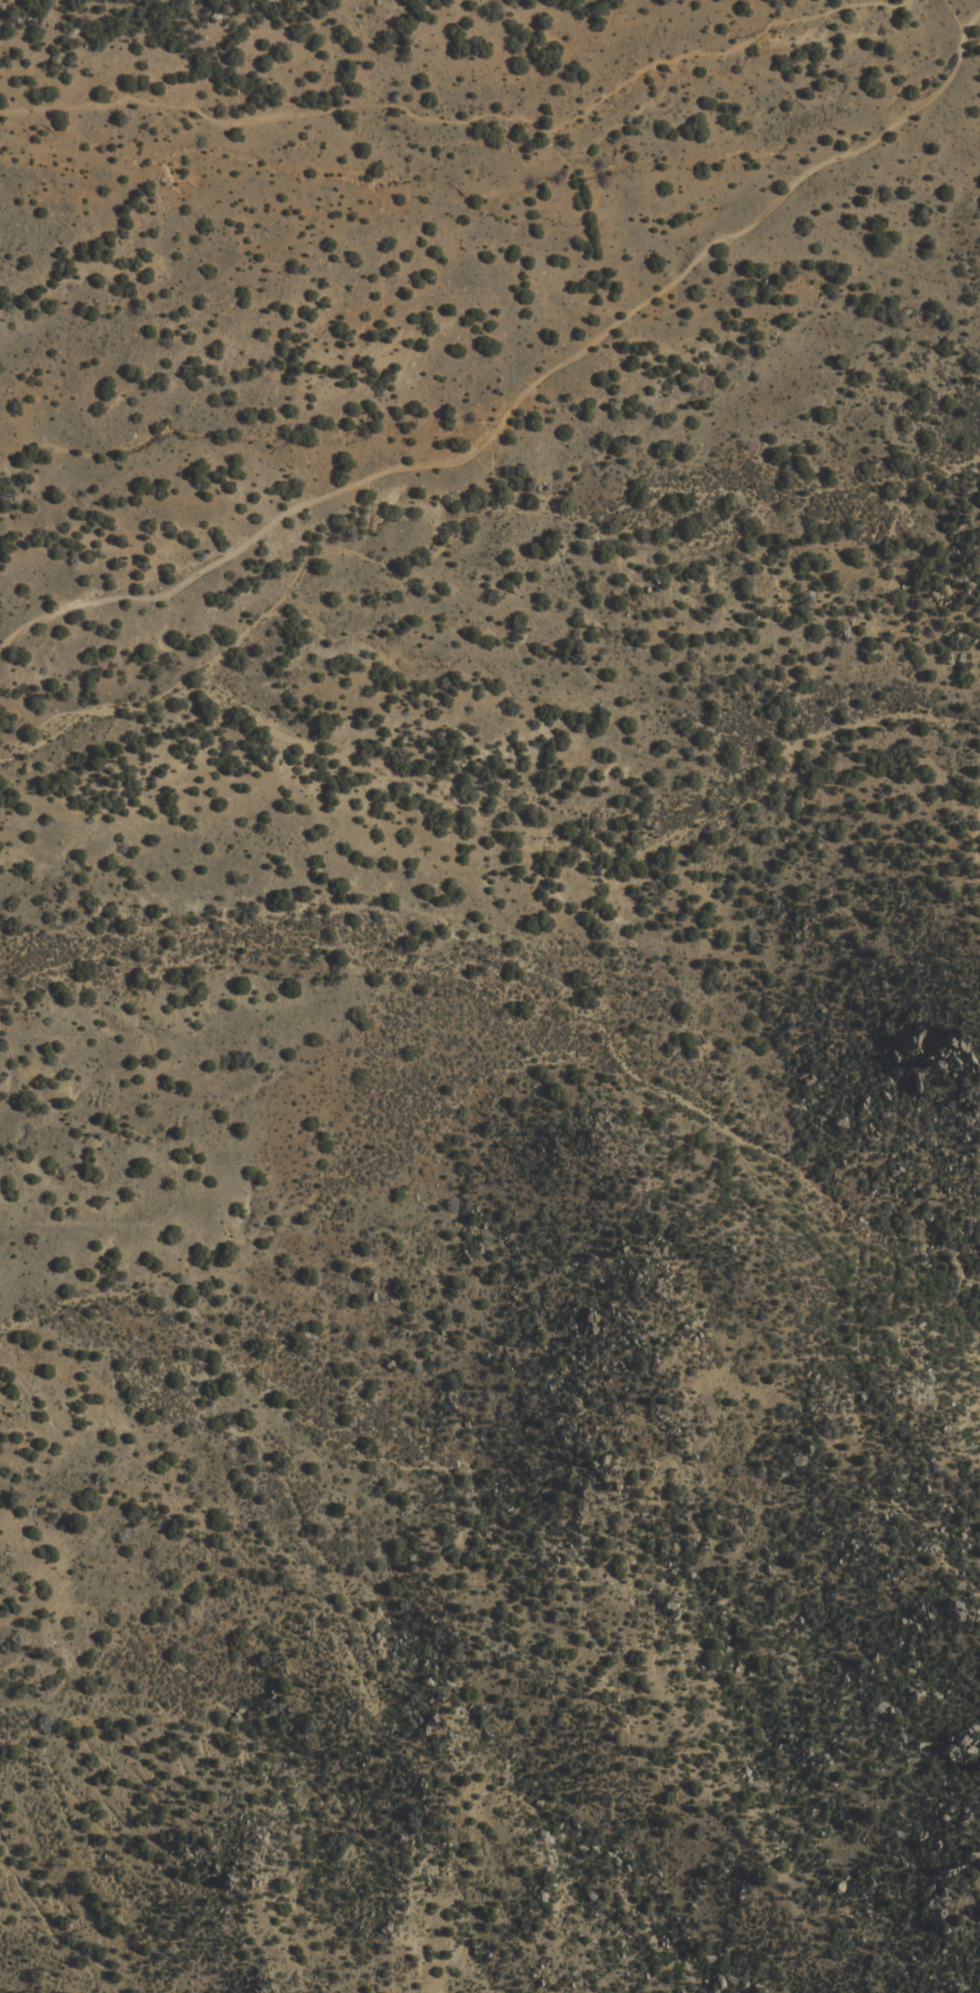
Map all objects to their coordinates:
road: (469, 120)
road: (527, 393)
park: (329, 395)

